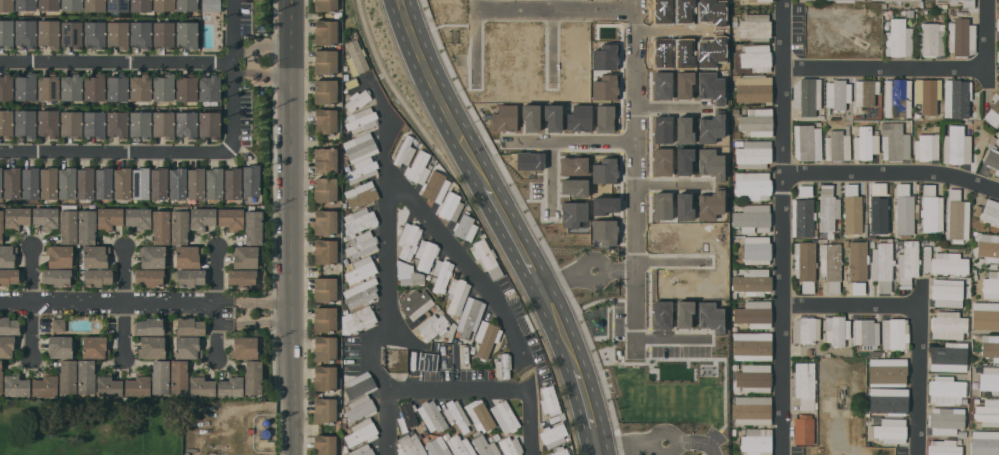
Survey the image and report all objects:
building: (762, 0)
building: (887, 0)
building: (844, 1)
building: (897, 1)
building: (964, 2)
road: (555, 3)
building: (6, 5)
building: (25, 5)
building: (48, 5)
building: (72, 5)
building: (95, 5)
building: (118, 5)
building: (141, 5)
building: (164, 5)
building: (187, 5)
building: (211, 5)
building: (325, 5)
building: (119, 13)
building: (997, 24)
building: (756, 26)
road: (669, 27)
building: (25, 32)
building: (49, 32)
building: (325, 32)
building: (6, 33)
building: (71, 33)
building: (94, 33)
building: (117, 33)
building: (164, 33)
building: (141, 34)
building: (186, 34)
road: (474, 36)
building: (961, 36)
road: (550, 38)
building: (898, 38)
building: (930, 39)
road: (987, 45)
building: (998, 55)
building: (355, 57)
building: (756, 57)
road: (146, 61)
building: (325, 62)
road: (885, 65)
road: (236, 73)
building: (6, 86)
building: (25, 86)
building: (94, 86)
building: (48, 87)
building: (71, 87)
building: (117, 87)
building: (140, 87)
building: (164, 87)
building: (186, 87)
building: (209, 87)
building: (753, 89)
building: (325, 91)
building: (865, 91)
building: (927, 94)
building: (807, 95)
building: (837, 95)
building: (897, 97)
building: (956, 98)
building: (357, 99)
road: (670, 103)
building: (993, 109)
building: (360, 120)
building: (326, 121)
building: (757, 121)
building: (6, 122)
building: (48, 122)
building: (25, 123)
building: (186, 123)
building: (71, 124)
building: (94, 124)
building: (117, 124)
building: (140, 124)
building: (163, 124)
building: (209, 124)
road: (570, 135)
building: (994, 139)
building: (807, 142)
building: (894, 142)
building: (865, 143)
building: (837, 145)
building: (361, 146)
building: (927, 146)
building: (956, 146)
road: (118, 147)
building: (404, 150)
building: (754, 154)
building: (325, 159)
building: (992, 160)
building: (418, 167)
road: (550, 168)
building: (361, 169)
road: (635, 173)
road: (892, 173)
building: (251, 180)
road: (669, 180)
building: (0, 182)
building: (11, 182)
building: (30, 182)
building: (48, 182)
building: (66, 182)
building: (85, 182)
building: (103, 182)
building: (122, 182)
building: (140, 183)
building: (159, 183)
building: (177, 183)
building: (195, 183)
building: (214, 183)
building: (232, 183)
building: (753, 185)
building: (435, 186)
building: (325, 189)
building: (805, 190)
building: (361, 194)
building: (450, 206)
building: (878, 207)
building: (828, 208)
building: (853, 209)
building: (904, 210)
building: (931, 210)
building: (990, 212)
building: (956, 216)
building: (16, 217)
building: (45, 217)
building: (109, 217)
building: (802, 217)
building: (138, 218)
building: (202, 218)
building: (231, 218)
building: (752, 218)
building: (360, 220)
building: (325, 221)
road: (507, 224)
building: (1, 225)
building: (68, 226)
building: (86, 226)
building: (161, 226)
building: (179, 226)
building: (253, 226)
road: (291, 227)
building: (465, 227)
road: (781, 227)
building: (409, 240)
building: (361, 245)
building: (988, 246)
building: (757, 249)
building: (324, 251)
building: (426, 254)
building: (7, 255)
building: (60, 255)
building: (95, 256)
building: (152, 256)
building: (188, 256)
building: (244, 256)
building: (485, 257)
road: (669, 257)
building: (926, 259)
building: (858, 260)
building: (908, 262)
building: (949, 263)
building: (805, 264)
building: (831, 265)
building: (883, 265)
road: (387, 267)
road: (585, 268)
building: (361, 270)
building: (441, 274)
building: (9, 276)
building: (56, 276)
building: (97, 276)
building: (149, 277)
building: (189, 277)
building: (242, 277)
building: (412, 278)
building: (752, 281)
building: (991, 285)
building: (857, 287)
building: (324, 289)
building: (255, 291)
building: (947, 292)
building: (361, 293)
building: (457, 294)
road: (493, 297)
building: (416, 302)
road: (35, 303)
road: (145, 303)
road: (218, 303)
road: (127, 306)
road: (850, 306)
building: (754, 314)
building: (989, 315)
building: (470, 316)
building: (324, 319)
building: (361, 319)
building: (58, 324)
building: (10, 325)
building: (433, 325)
building: (948, 325)
building: (149, 326)
building: (190, 327)
building: (806, 329)
building: (837, 330)
building: (255, 331)
building: (865, 331)
building: (895, 333)
road: (669, 334)
building: (486, 337)
building: (990, 345)
building: (7, 346)
building: (59, 346)
building: (153, 346)
building: (752, 346)
building: (94, 347)
building: (187, 347)
building: (245, 347)
building: (324, 347)
building: (949, 356)
building: (424, 361)
building: (503, 365)
road: (919, 370)
building: (887, 371)
building: (67, 376)
building: (86, 376)
building: (179, 376)
building: (160, 377)
building: (253, 377)
building: (324, 378)
building: (754, 378)
building: (1, 379)
building: (990, 379)
building: (16, 384)
building: (45, 384)
building: (109, 385)
building: (138, 385)
building: (201, 385)
building: (231, 385)
building: (359, 385)
building: (805, 385)
road: (457, 388)
building: (946, 389)
petroleum well: (840, 395)
building: (550, 400)
building: (893, 400)
building: (360, 407)
building: (324, 410)
building: (752, 410)
building: (988, 412)
building: (480, 413)
building: (432, 415)
building: (457, 415)
building: (407, 416)
building: (505, 416)
building: (946, 419)
building: (266, 421)
storage tank: (266, 421)
building: (804, 429)
building: (890, 429)
building: (361, 432)
building: (265, 433)
storage tank: (265, 433)
building: (553, 435)
road: (657, 439)
building: (756, 441)
building: (266, 442)
building: (984, 442)
building: (324, 444)
building: (459, 444)
building: (410, 445)
building: (485, 446)
building: (510, 446)
building: (944, 447)
building: (437, 448)
building: (362, 450)
building: (561, 451)
petroleum well: (212, 453)

